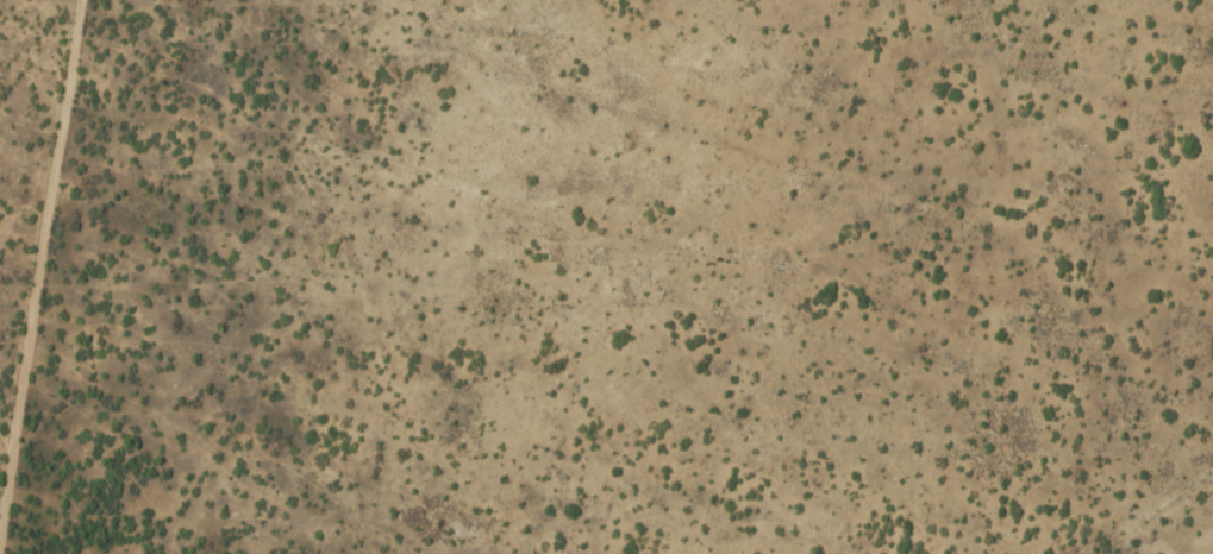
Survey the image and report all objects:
road: (30, 263)

